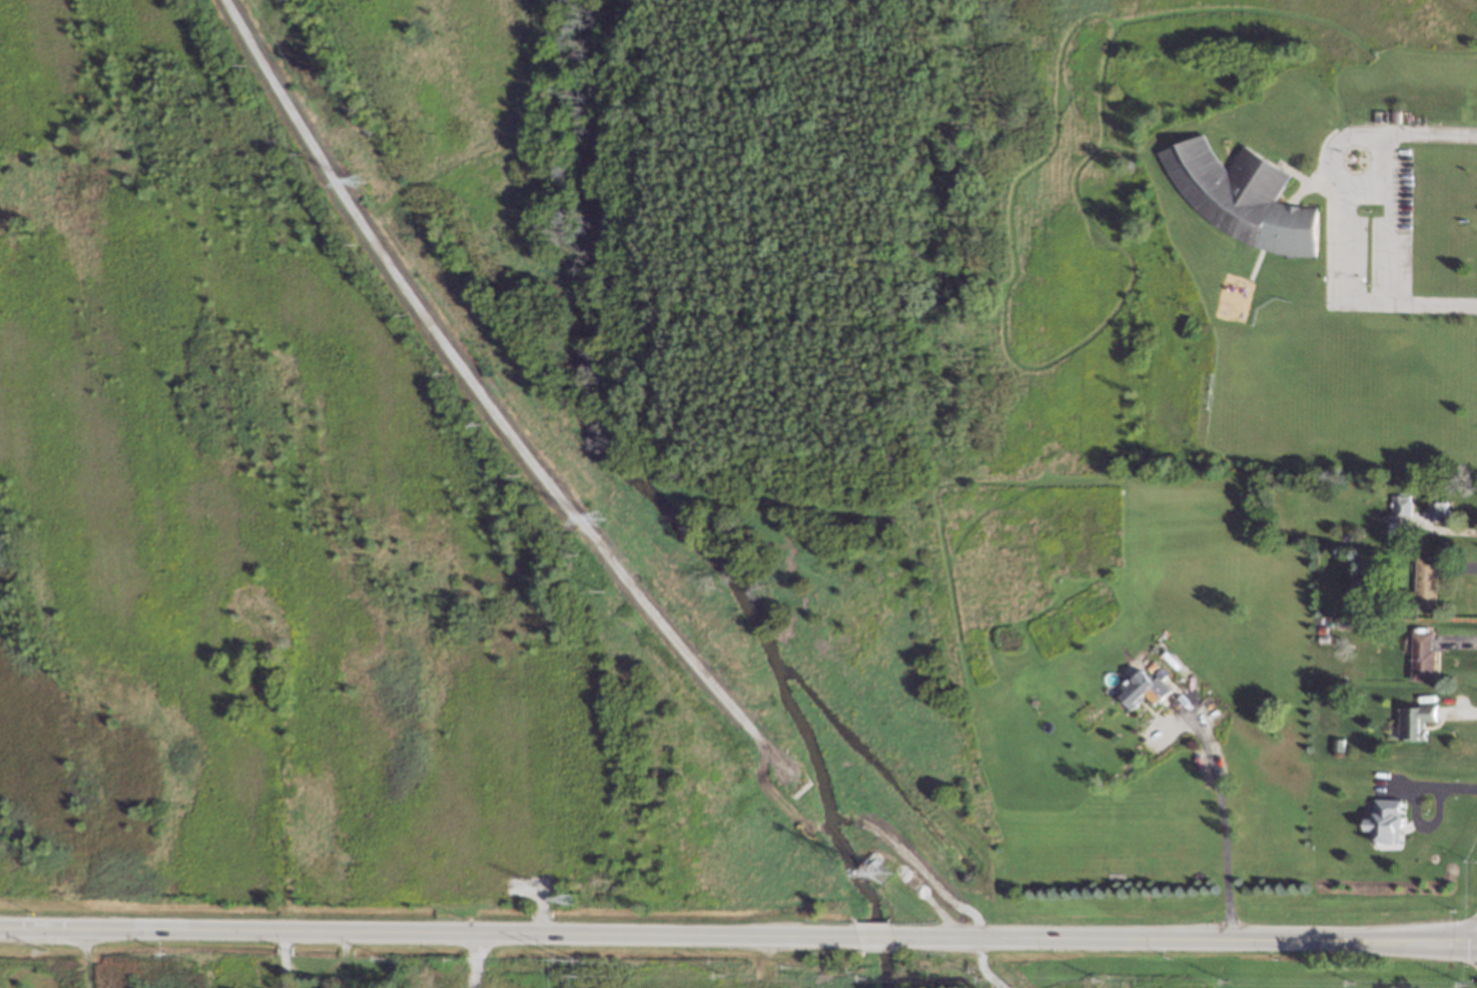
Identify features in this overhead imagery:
building: (1395, 117)
building: (1228, 140)
road: (1367, 185)
building: (1241, 197)
road: (1346, 212)
road: (1386, 218)
park: (722, 322)
building: (1402, 506)
river: (660, 509)
building: (1437, 512)
park: (250, 530)
building: (1426, 583)
building: (1350, 596)
building: (1423, 658)
building: (1143, 691)
building: (1416, 721)
road: (1433, 787)
park: (688, 808)
road: (1223, 818)
building: (1386, 821)
road: (426, 934)
road: (873, 936)
road: (1185, 939)
road: (284, 960)
road: (480, 961)
park: (133, 963)
park: (761, 967)
road: (326, 972)

